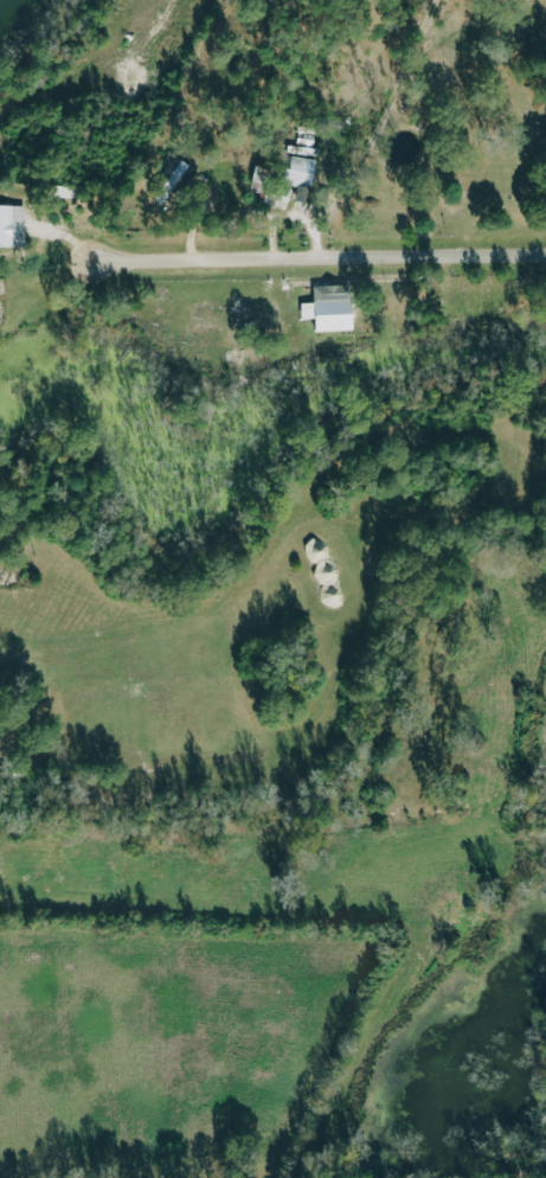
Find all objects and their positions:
building: (303, 172)
building: (176, 180)
building: (271, 186)
building: (13, 225)
road: (317, 261)
building: (338, 315)
building: (339, 584)

